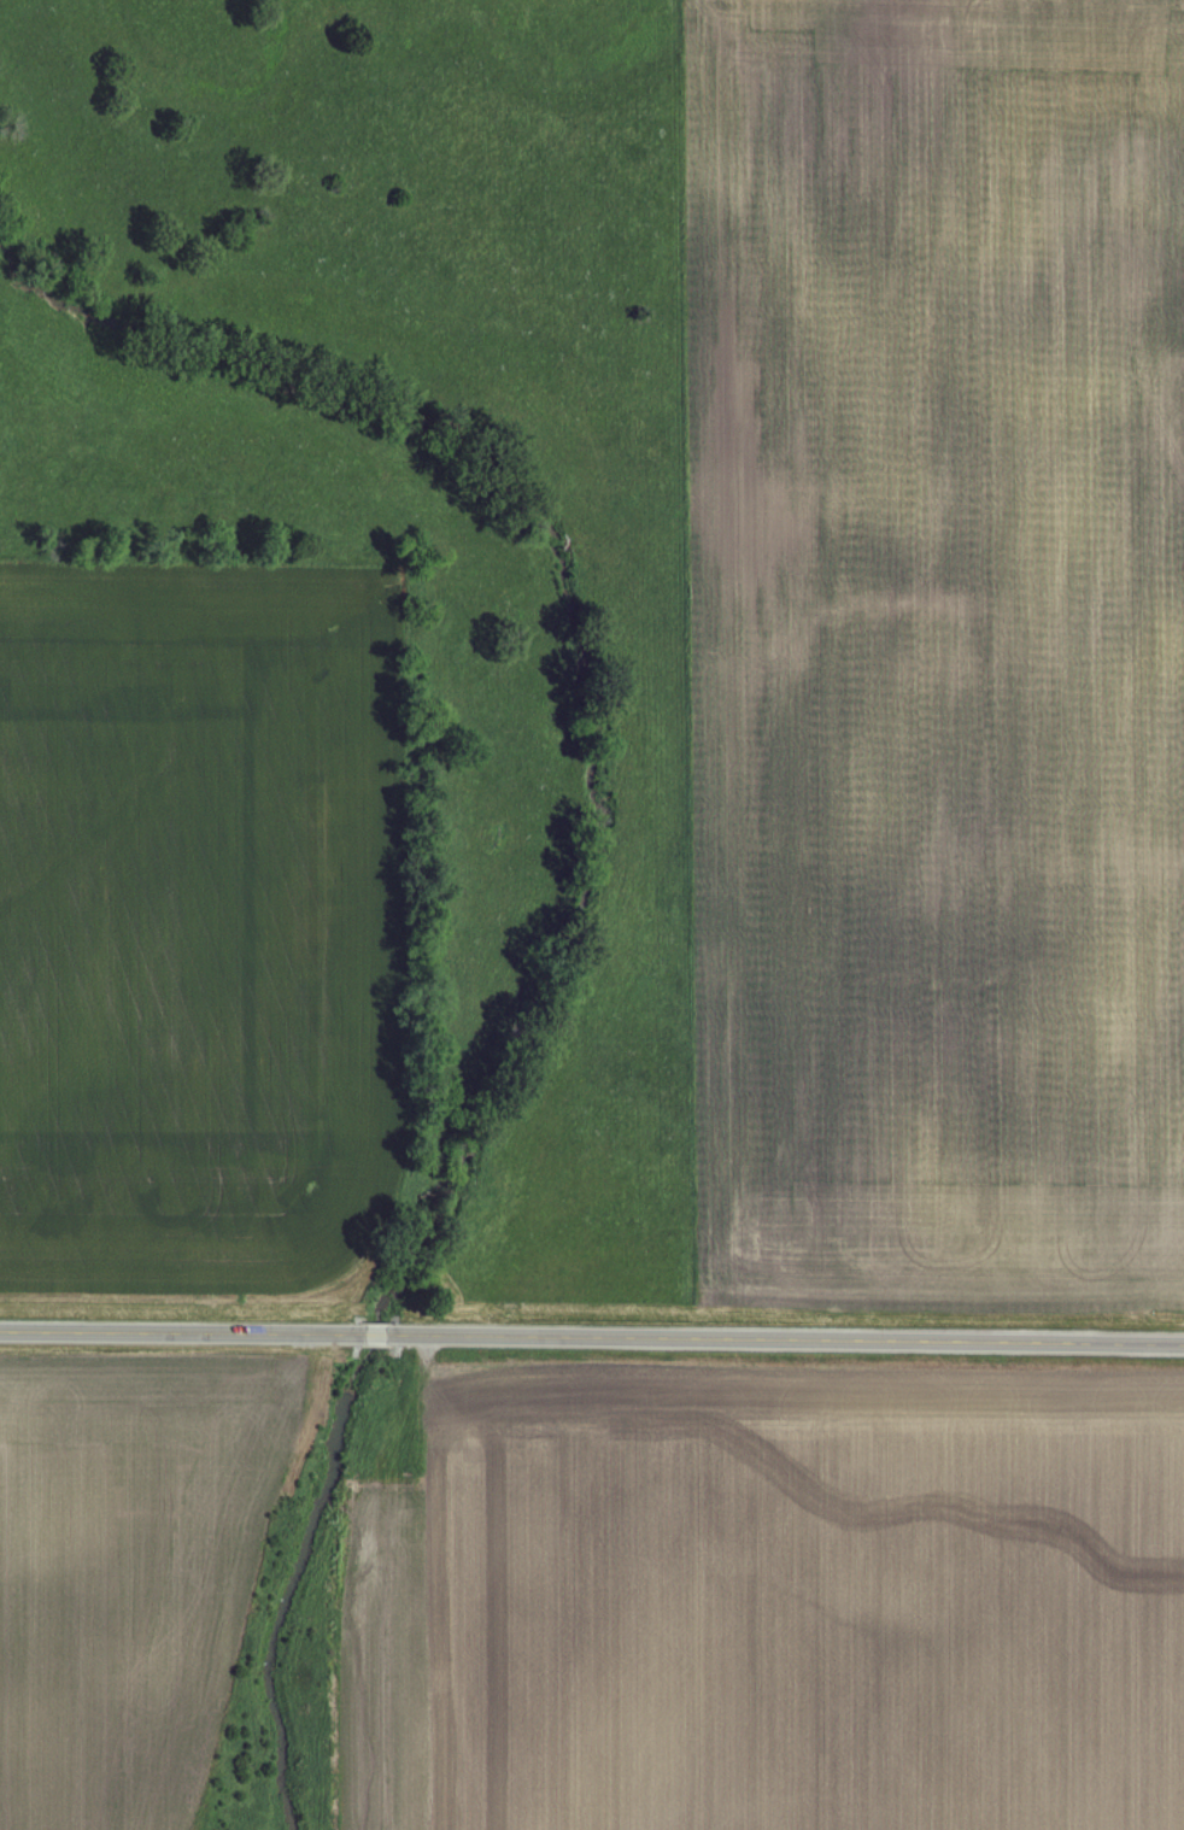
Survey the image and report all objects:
road: (592, 1335)

